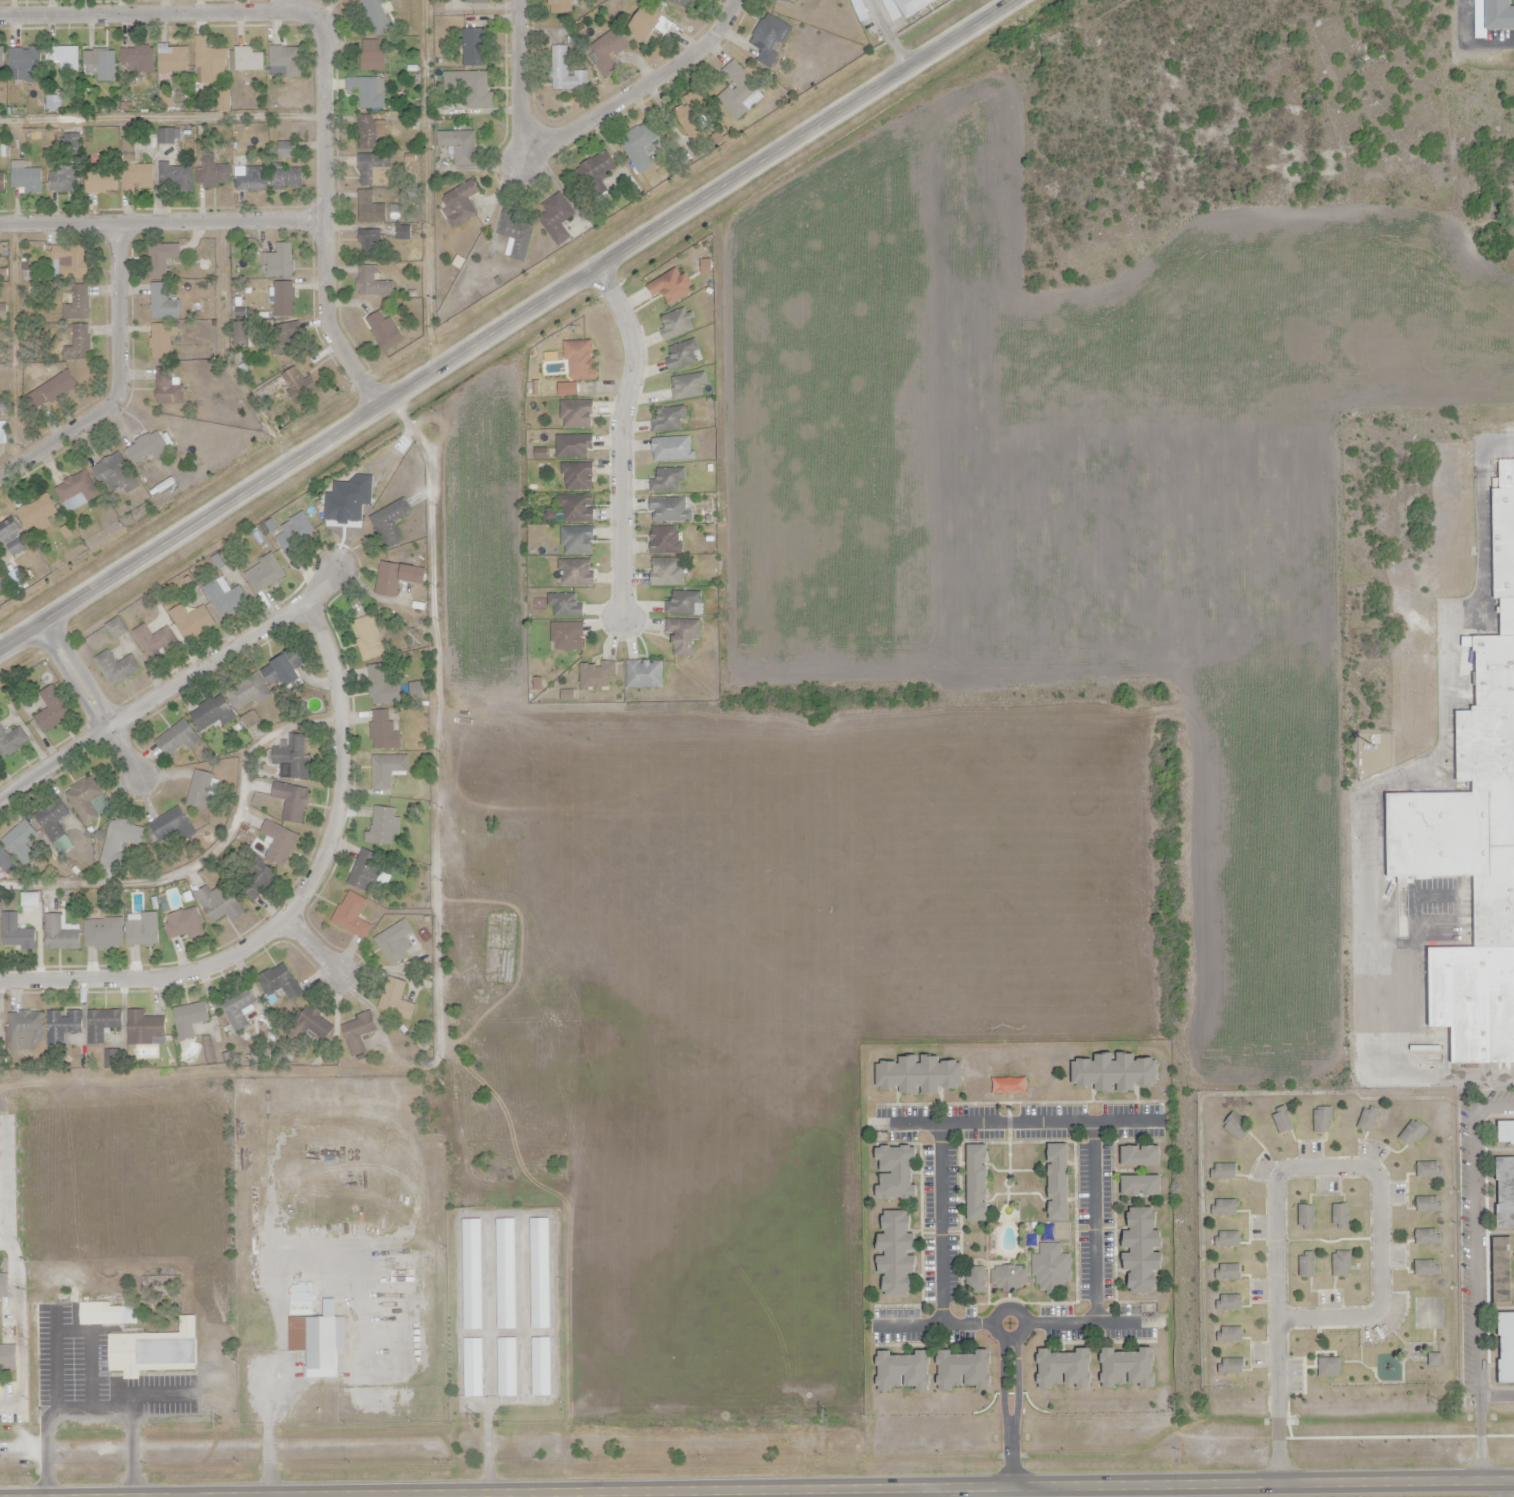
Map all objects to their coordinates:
building: (480, 1)
building: (783, 1)
building: (562, 2)
building: (683, 3)
building: (915, 6)
building: (892, 9)
building: (1500, 14)
building: (375, 16)
building: (646, 24)
road: (889, 35)
building: (770, 39)
building: (475, 48)
building: (609, 50)
building: (374, 57)
building: (138, 59)
building: (171, 59)
road: (329, 59)
building: (0, 60)
building: (65, 60)
building: (287, 60)
building: (249, 61)
building: (211, 62)
building: (102, 64)
building: (26, 65)
building: (566, 73)
building: (471, 88)
building: (738, 91)
building: (368, 93)
building: (51, 103)
building: (691, 114)
road: (588, 124)
building: (366, 133)
building: (166, 137)
building: (461, 146)
building: (129, 147)
building: (638, 147)
building: (287, 150)
building: (410, 159)
building: (597, 166)
building: (370, 167)
road: (510, 171)
building: (213, 173)
building: (175, 177)
building: (26, 178)
building: (138, 178)
building: (286, 179)
building: (64, 180)
building: (253, 181)
building: (2, 183)
building: (102, 183)
building: (463, 204)
building: (369, 209)
building: (558, 219)
road: (165, 222)
building: (514, 233)
building: (372, 244)
building: (161, 259)
building: (281, 261)
building: (70, 262)
building: (374, 285)
building: (672, 287)
building: (284, 301)
building: (163, 303)
building: (78, 304)
building: (676, 326)
road: (511, 329)
building: (385, 331)
building: (288, 332)
building: (239, 335)
building: (163, 341)
building: (80, 346)
building: (682, 356)
building: (552, 358)
building: (580, 360)
road: (118, 381)
building: (300, 386)
building: (687, 386)
building: (166, 389)
building: (57, 390)
building: (577, 415)
building: (668, 420)
building: (3, 434)
road: (623, 440)
building: (574, 446)
building: (148, 449)
building: (673, 450)
building: (541, 454)
building: (112, 472)
building: (578, 476)
building: (666, 481)
building: (76, 489)
building: (348, 501)
building: (577, 509)
building: (671, 511)
building: (37, 512)
building: (388, 523)
building: (12, 534)
building: (294, 536)
building: (578, 540)
building: (665, 540)
building: (666, 573)
building: (577, 574)
building: (266, 575)
building: (388, 581)
road: (326, 587)
building: (225, 599)
building: (683, 603)
building: (565, 605)
building: (192, 621)
building: (567, 636)
building: (683, 636)
building: (369, 639)
building: (154, 641)
building: (116, 668)
building: (285, 669)
building: (646, 675)
building: (597, 676)
building: (537, 684)
building: (380, 686)
building: (248, 692)
building: (566, 695)
road: (98, 700)
road: (155, 701)
building: (52, 711)
building: (212, 715)
building: (383, 730)
building: (176, 740)
building: (12, 744)
building: (296, 756)
building: (386, 771)
building: (201, 791)
building: (85, 801)
building: (292, 803)
building: (52, 819)
building: (383, 827)
building: (168, 828)
building: (1474, 832)
building: (18, 842)
building: (118, 844)
building: (278, 844)
building: (6, 862)
building: (363, 870)
building: (258, 878)
building: (217, 902)
road: (294, 903)
building: (352, 917)
building: (182, 925)
building: (143, 932)
building: (103, 935)
building: (17, 937)
building: (60, 937)
building: (396, 945)
road: (318, 946)
building: (275, 981)
building: (396, 1002)
building: (237, 1009)
building: (189, 1020)
building: (0, 1024)
building: (101, 1024)
building: (311, 1024)
building: (61, 1029)
building: (144, 1030)
building: (25, 1034)
building: (359, 1035)
building: (110, 1059)
building: (226, 1059)
building: (1120, 1075)
building: (920, 1076)
building: (1282, 1122)
building: (1321, 1122)
road: (1052, 1123)
building: (1366, 1123)
building: (1235, 1128)
building: (1507, 1133)
building: (1411, 1135)
building: (1141, 1156)
road: (1301, 1169)
building: (1428, 1171)
building: (897, 1172)
building: (1223, 1172)
building: (980, 1182)
building: (1061, 1182)
building: (1142, 1186)
building: (1506, 1195)
building: (1428, 1206)
building: (1225, 1209)
building: (1339, 1217)
building: (1305, 1218)
road: (487, 1227)
building: (1428, 1239)
building: (1225, 1240)
building: (1145, 1250)
building: (899, 1255)
building: (1343, 1264)
building: (1306, 1266)
building: (1050, 1269)
building: (1426, 1269)
building: (1504, 1271)
building: (1228, 1273)
road: (1480, 1274)
building: (472, 1275)
building: (505, 1276)
building: (539, 1276)
building: (1008, 1277)
building: (976, 1280)
building: (3, 1287)
building: (167, 1291)
road: (280, 1298)
building: (1229, 1304)
building: (103, 1315)
road: (935, 1326)
road: (1003, 1332)
road: (1007, 1335)
building: (1230, 1336)
building: (317, 1344)
building: (1507, 1348)
building: (158, 1351)
building: (8, 1359)
building: (1434, 1361)
building: (540, 1367)
building: (1230, 1367)
building: (472, 1368)
building: (506, 1368)
building: (1129, 1369)
building: (1329, 1369)
building: (966, 1370)
building: (1067, 1370)
building: (904, 1372)
power tower: (1435, 1401)
power tower: (1174, 1408)
power tower: (823, 1412)
power tower: (474, 1416)
power tower: (218, 1420)
road: (1010, 1453)
road: (890, 1488)
road: (1499, 1489)

